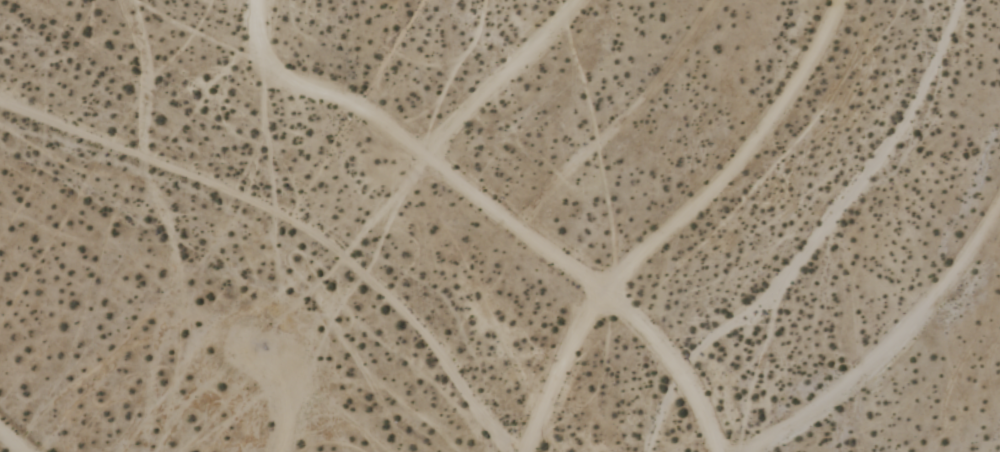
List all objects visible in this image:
road: (502, 80)
road: (319, 92)
road: (679, 222)
crop: (500, 226)
road: (596, 291)
road: (895, 349)
road: (226, 378)

